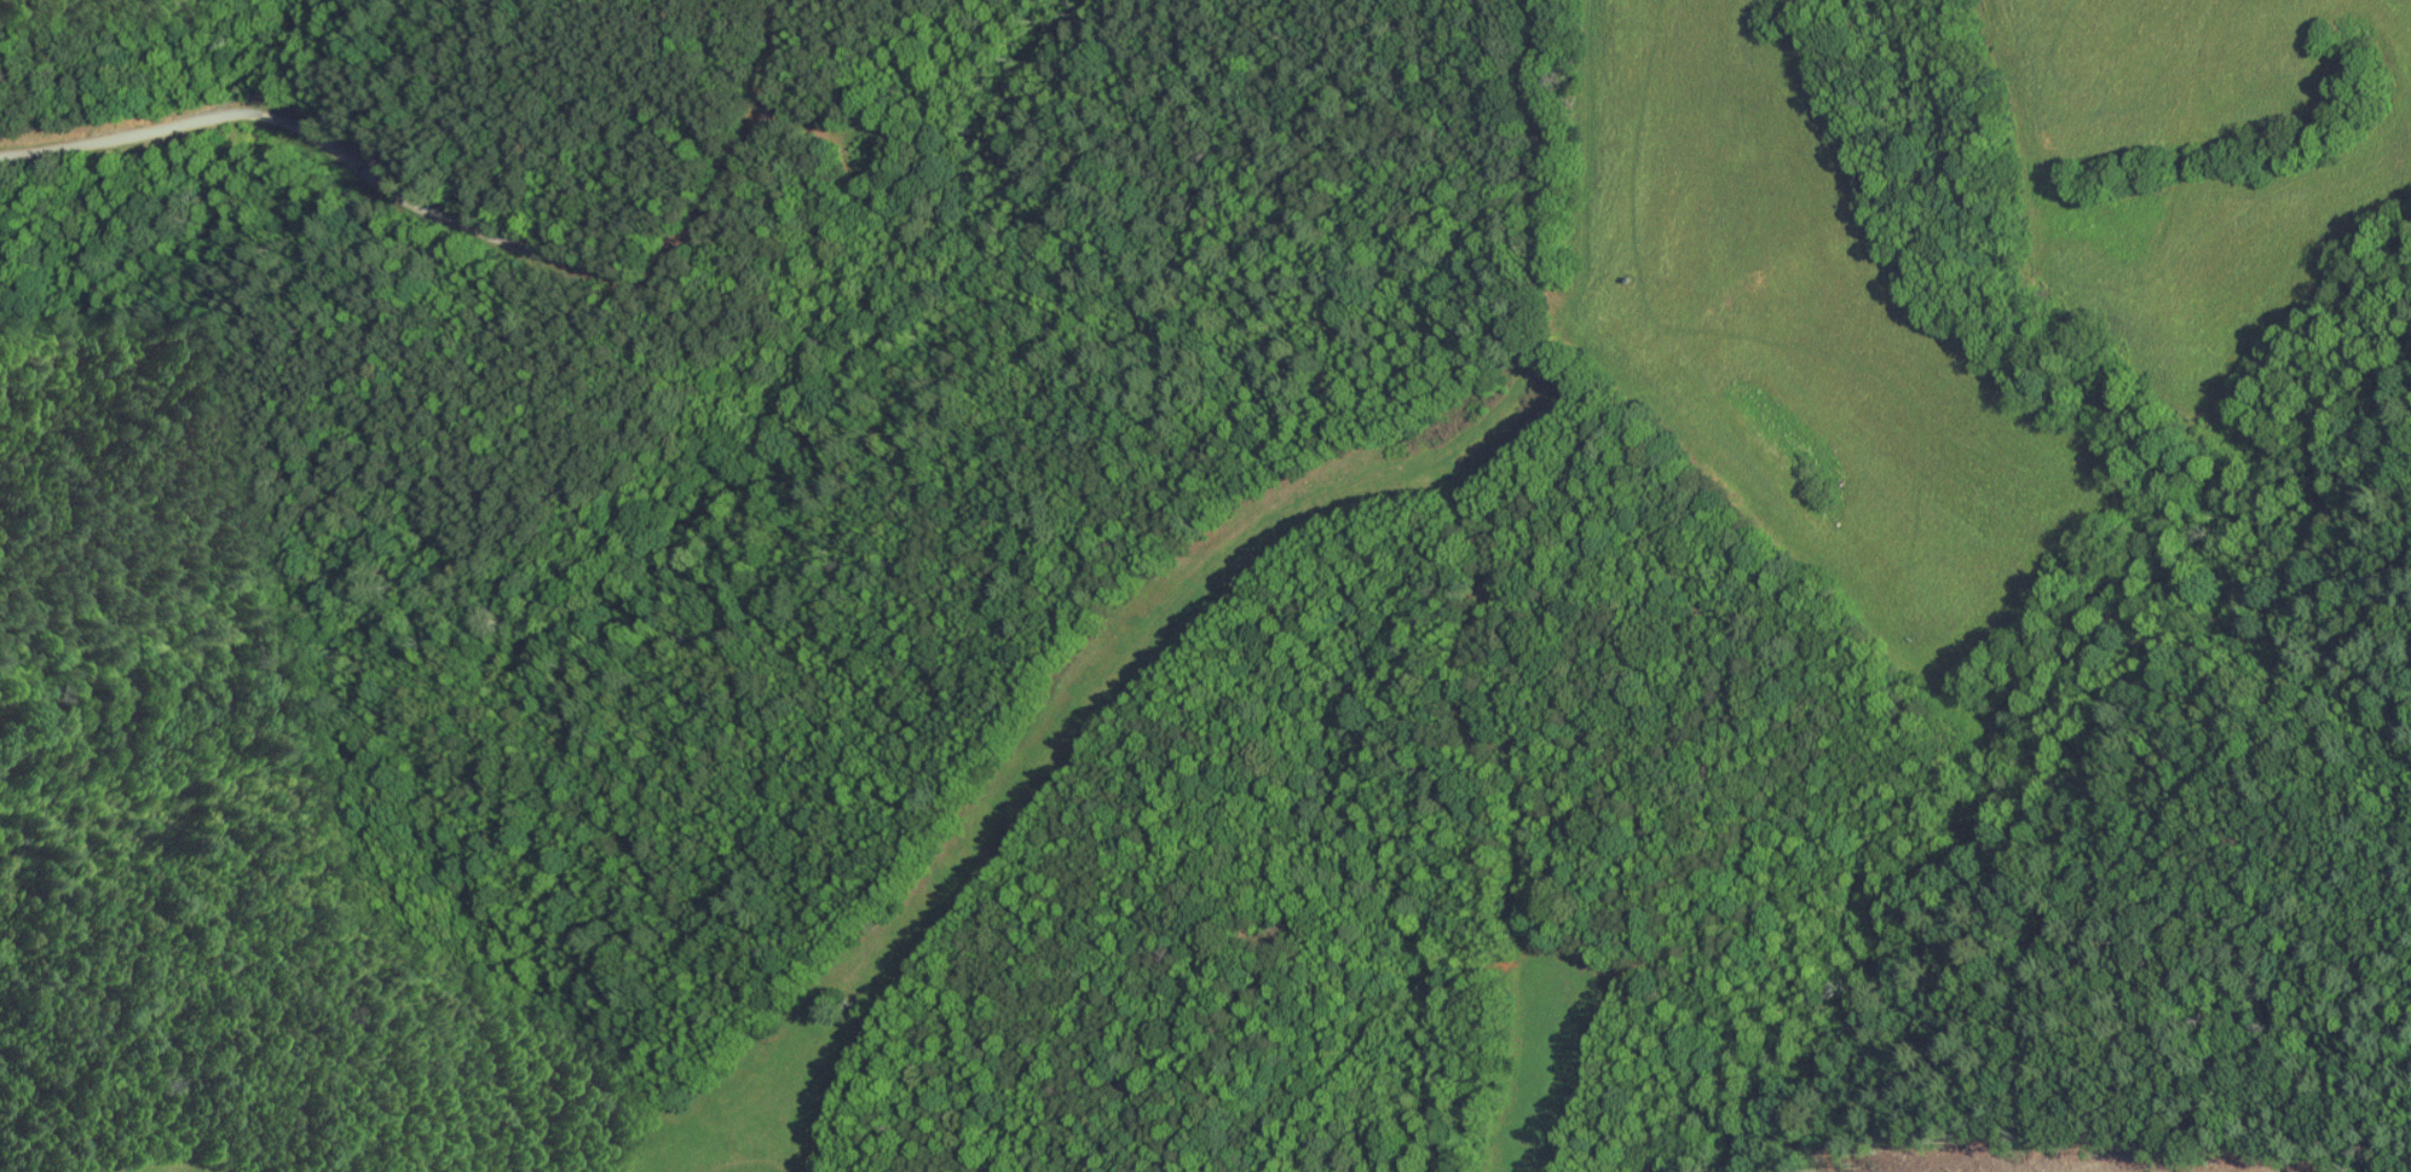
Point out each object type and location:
road: (471, 224)

